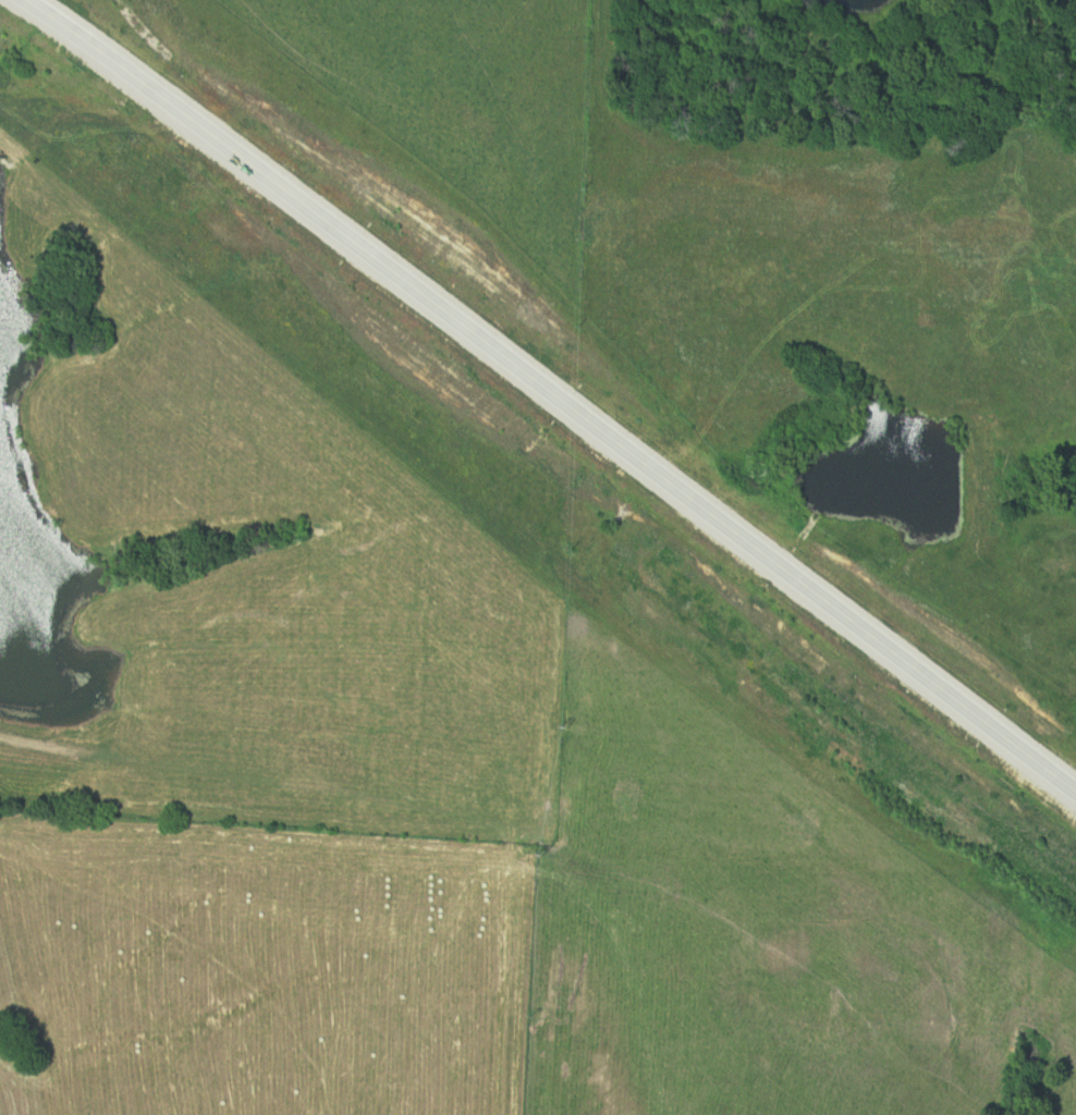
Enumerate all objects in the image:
road: (546, 400)
dam: (33, 720)

